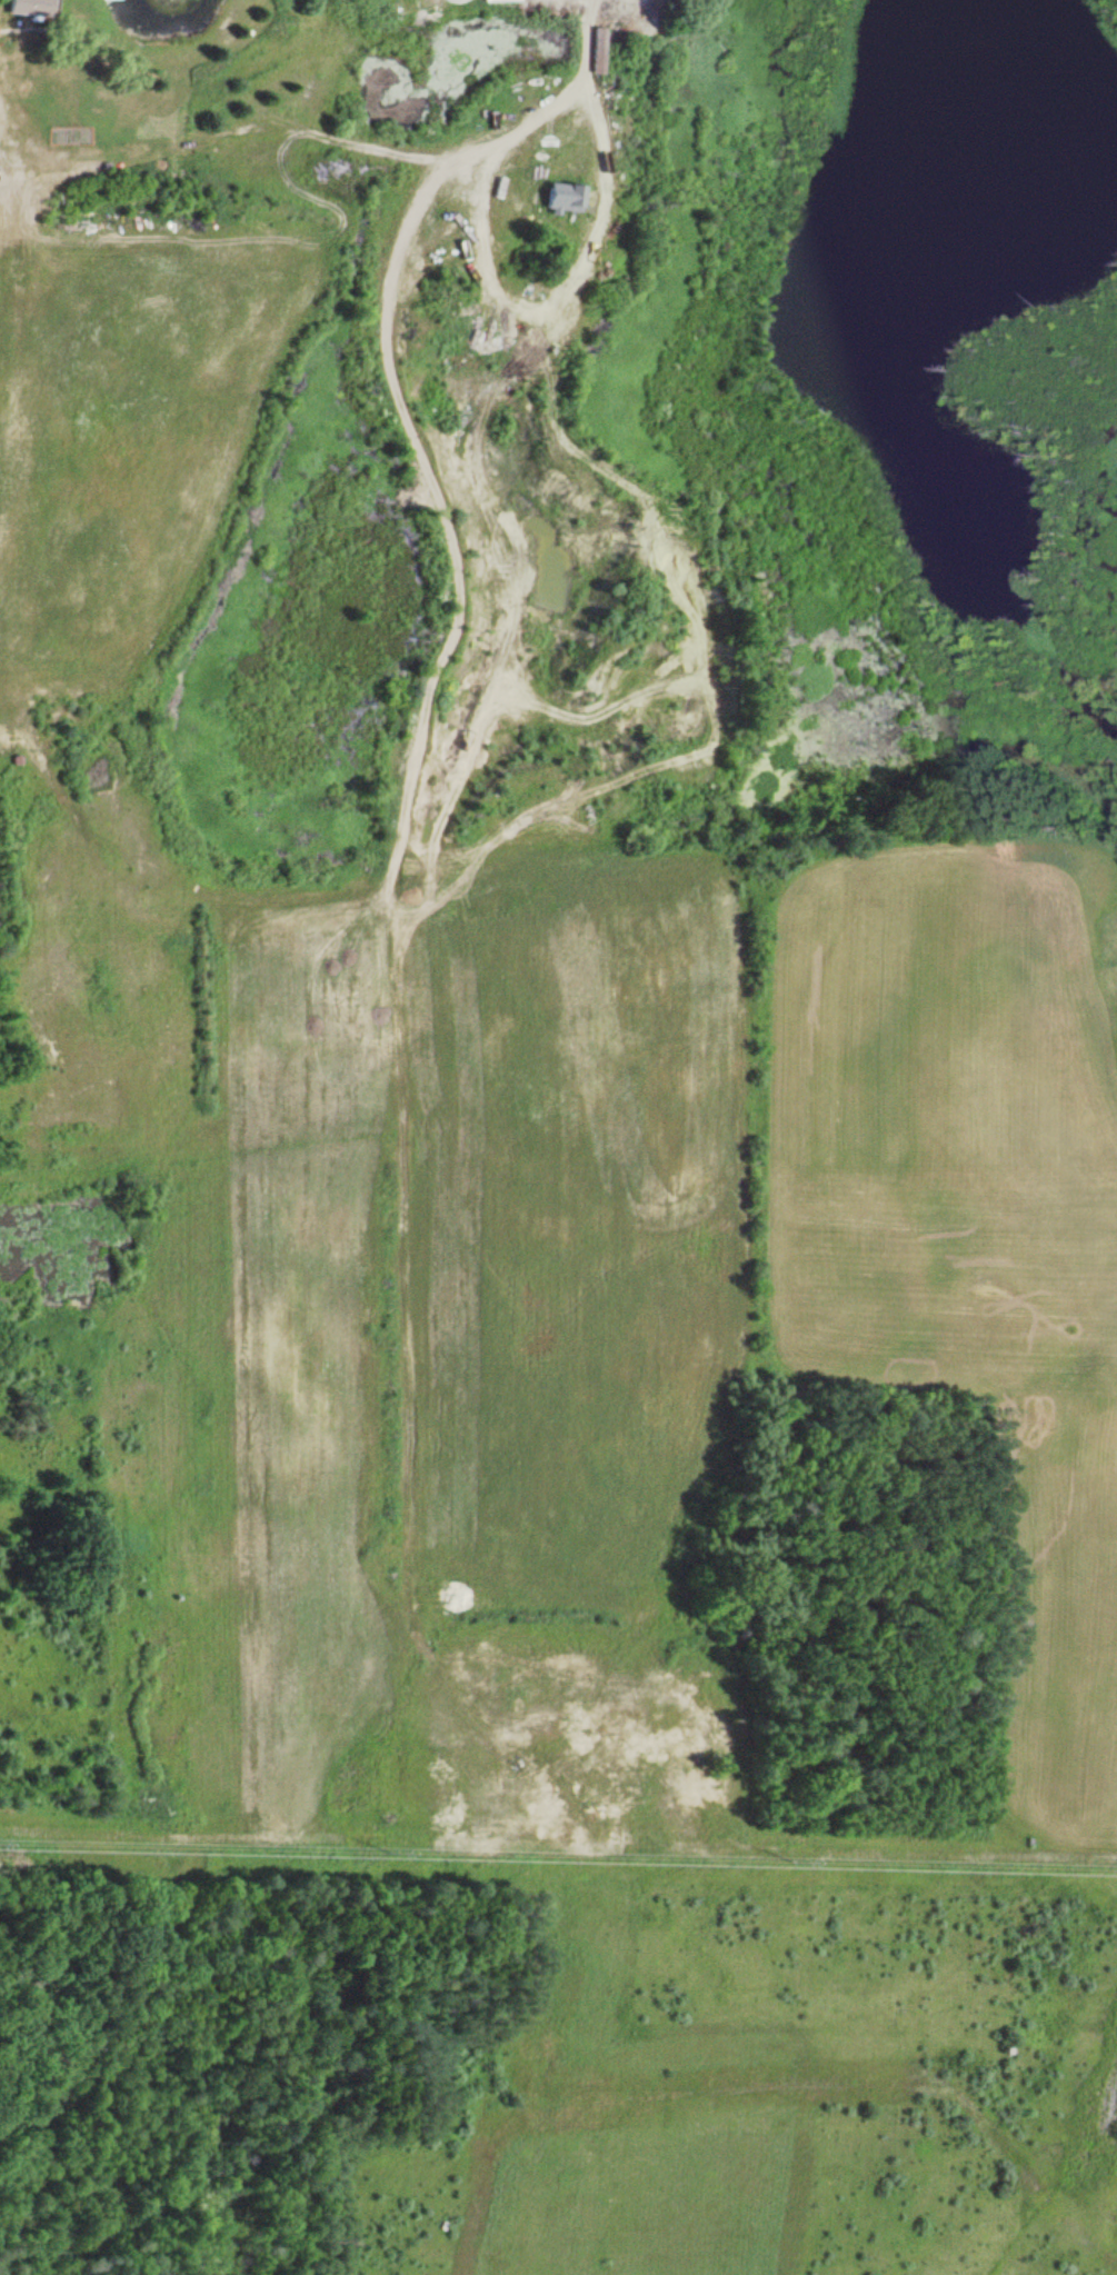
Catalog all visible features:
building: (21, 8)
building: (516, 288)
building: (460, 383)
building: (558, 428)

